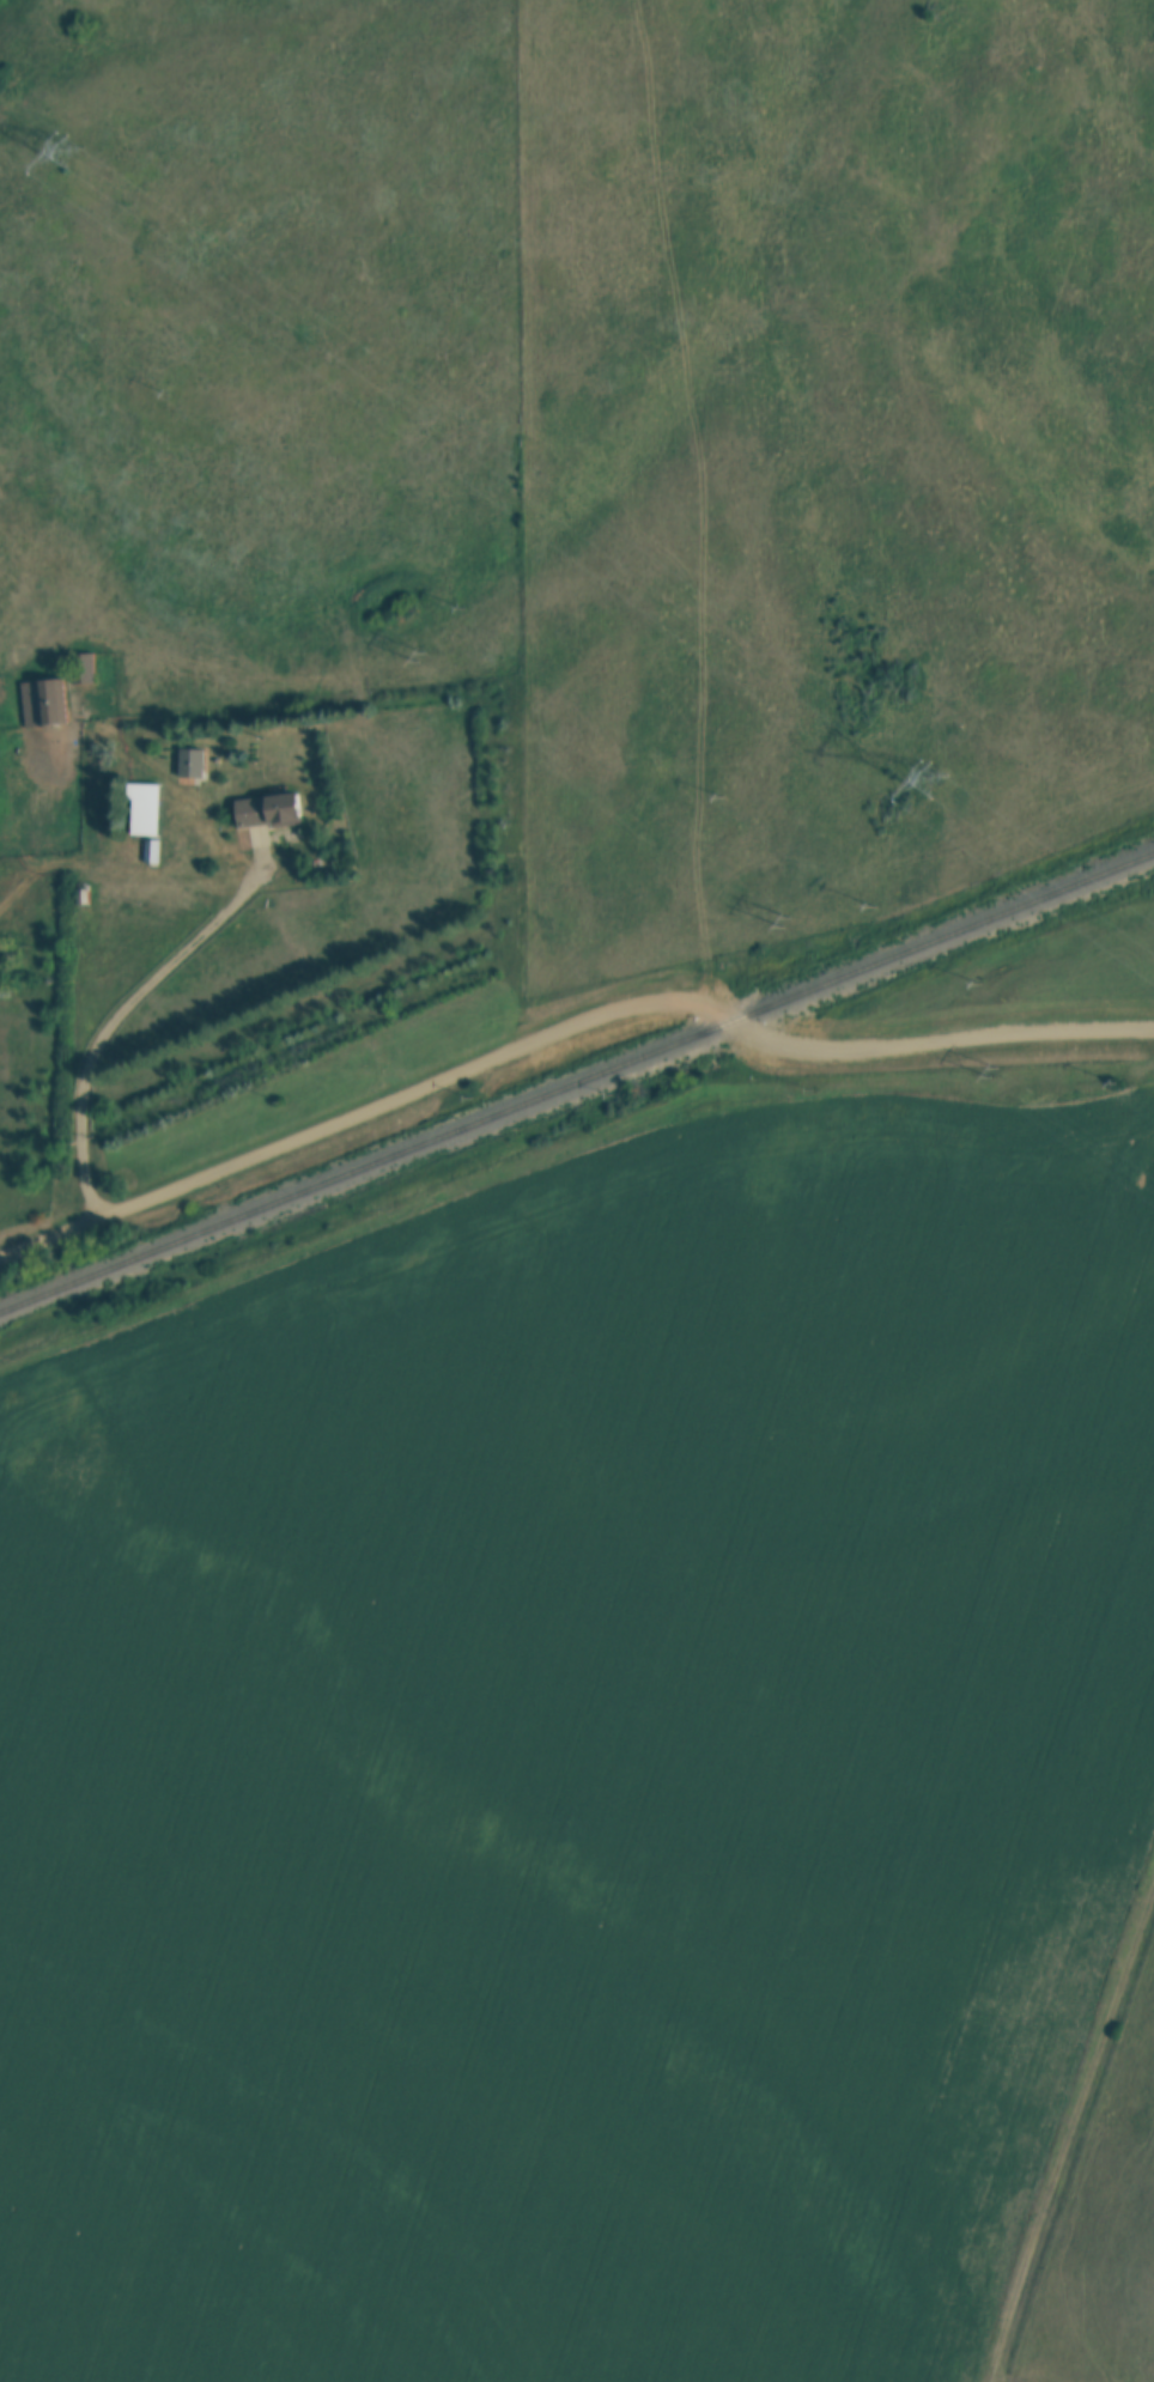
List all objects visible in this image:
power tower: (71, 152)
building: (87, 668)
building: (37, 703)
building: (190, 762)
power tower: (935, 779)
building: (145, 809)
building: (267, 812)
road: (115, 1025)
road: (561, 1032)
railway: (576, 1083)
road: (1074, 2135)

